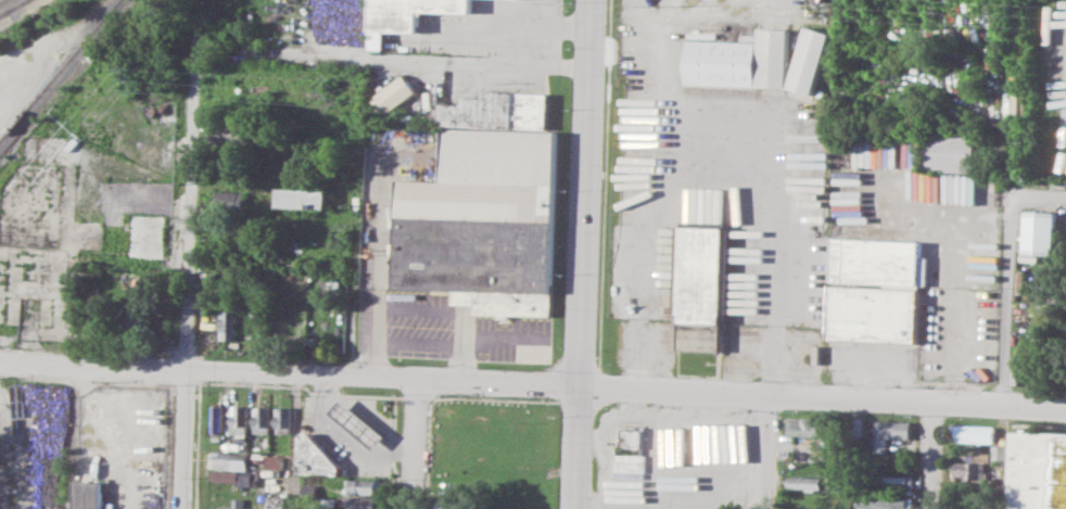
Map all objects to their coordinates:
railway: (2, 1)
railway: (15, 5)
railway: (13, 7)
railway: (114, 9)
building: (409, 12)
power tower: (1007, 13)
building: (740, 60)
road: (413, 61)
building: (809, 64)
road: (533, 67)
railway: (60, 71)
power tower: (142, 79)
power tower: (342, 93)
building: (394, 94)
road: (7, 103)
building: (232, 131)
road: (724, 136)
building: (952, 152)
building: (232, 198)
building: (305, 198)
road: (1039, 199)
building: (488, 206)
building: (1041, 232)
building: (148, 236)
road: (581, 254)
road: (385, 260)
building: (304, 266)
road: (194, 269)
building: (703, 273)
building: (875, 291)
road: (1006, 302)
building: (138, 316)
building: (228, 322)
road: (210, 370)
road: (498, 382)
road: (821, 396)
building: (218, 417)
building: (240, 419)
building: (262, 419)
building: (283, 419)
building: (359, 423)
gas station: (359, 423)
building: (804, 425)
building: (890, 433)
building: (975, 433)
road: (350, 437)
road: (672, 438)
road: (294, 442)
road: (418, 444)
road: (763, 451)
building: (1000, 453)
road: (931, 455)
building: (317, 457)
building: (229, 460)
building: (275, 461)
road: (608, 468)
building: (970, 470)
building: (1041, 472)
building: (234, 476)
building: (898, 481)
building: (803, 482)
building: (365, 485)
road: (685, 488)
building: (89, 495)
building: (276, 501)
building: (364, 501)
building: (885, 501)
building: (453, 504)
building: (238, 505)

